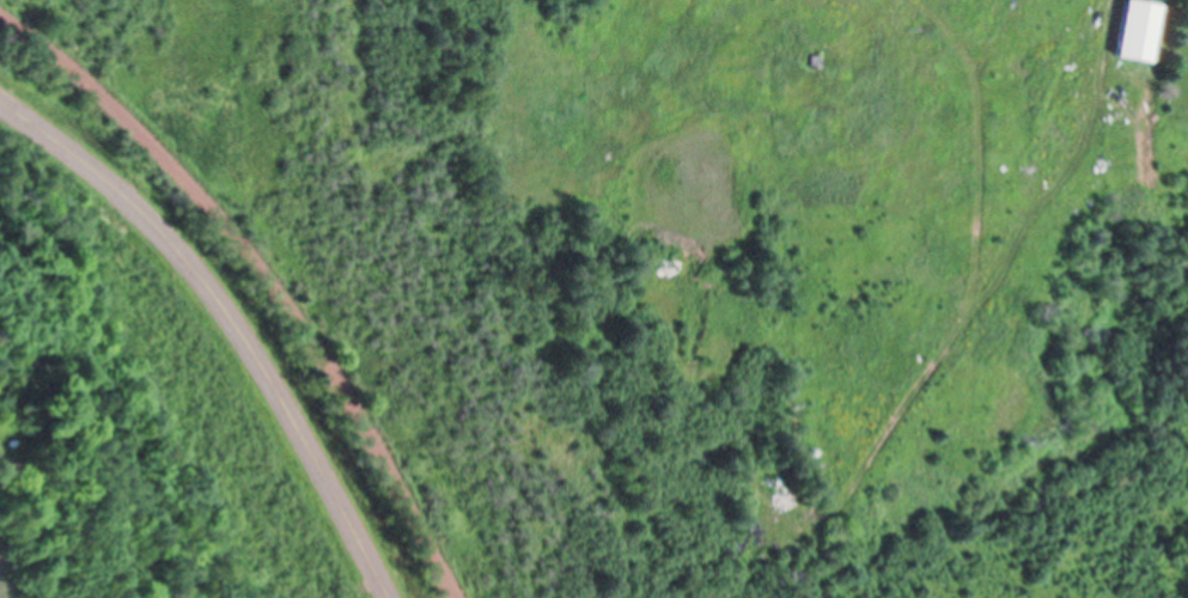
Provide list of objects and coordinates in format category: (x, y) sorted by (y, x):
building: (1140, 33)
road: (63, 148)
road: (267, 274)
road: (274, 384)
park: (136, 417)

